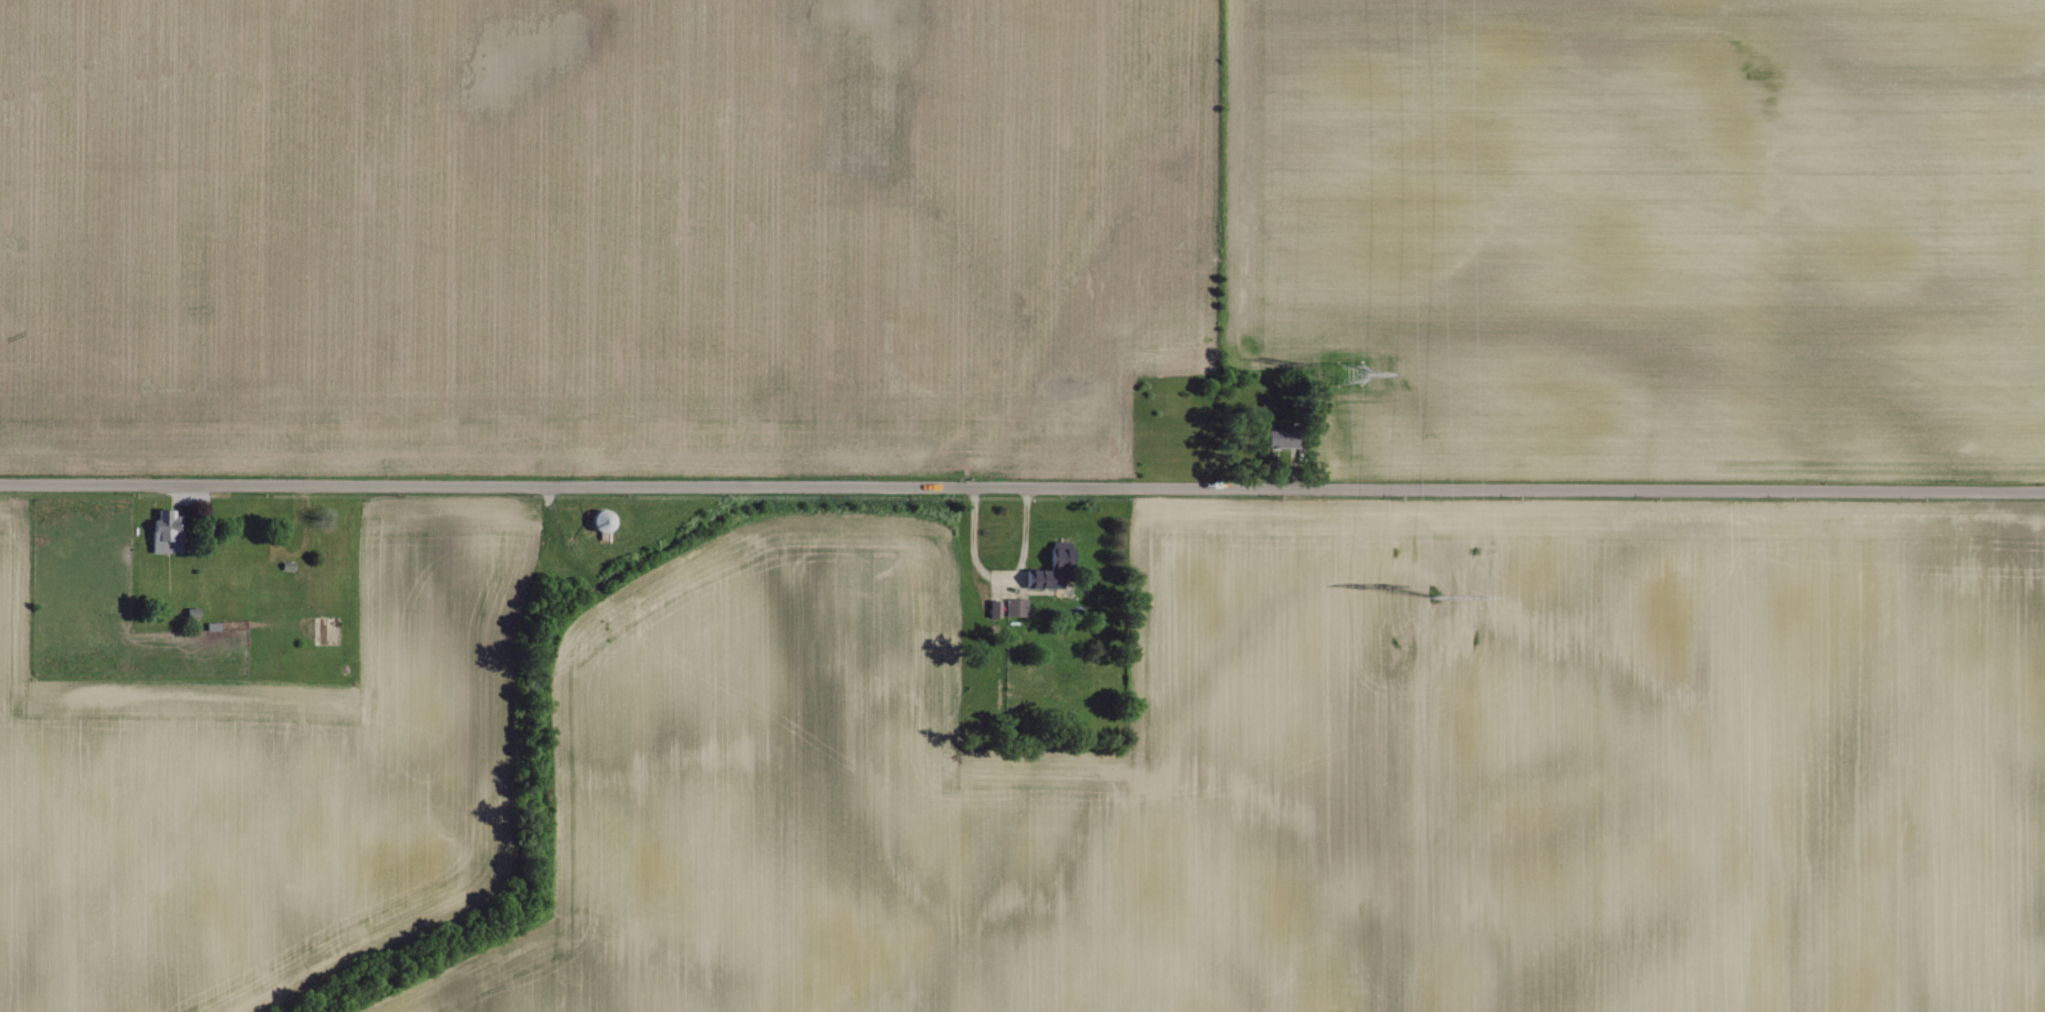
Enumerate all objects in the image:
power tower: (1350, 372)
building: (1284, 435)
road: (1293, 474)
road: (1022, 485)
silo: (605, 517)
road: (1023, 541)
road: (972, 547)
building: (1051, 567)
power tower: (1434, 595)
building: (1016, 604)
building: (995, 606)

